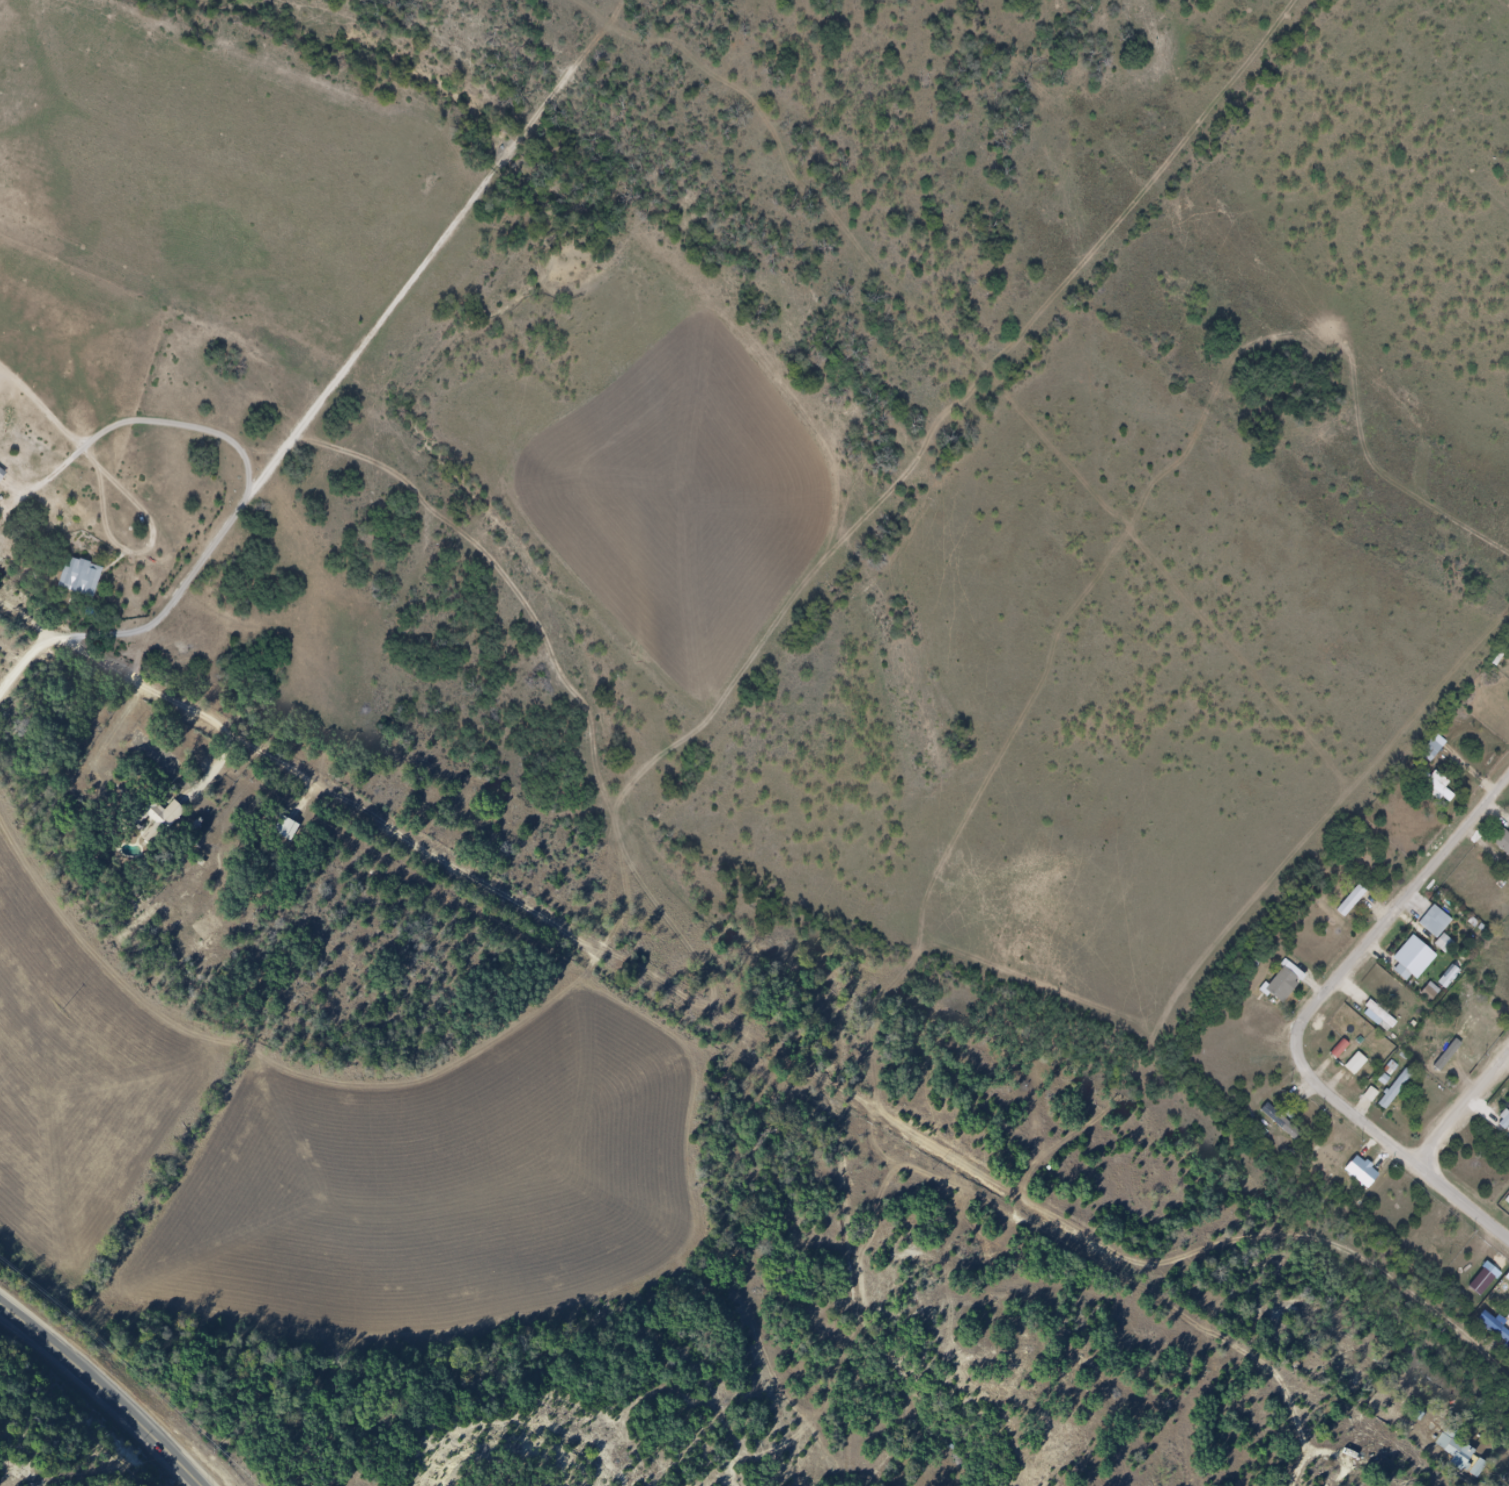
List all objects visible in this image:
road: (156, 423)
road: (270, 455)
road: (277, 475)
building: (6, 478)
building: (86, 585)
road: (195, 715)
building: (1434, 748)
building: (1441, 790)
building: (163, 827)
building: (1503, 842)
building: (1352, 901)
building: (1436, 922)
building: (1445, 944)
building: (1416, 957)
building: (1290, 991)
building: (1480, 1013)
building: (1382, 1015)
road: (1309, 1016)
building: (1396, 1089)
road: (1464, 1107)
building: (1287, 1125)
building: (1499, 1329)
road: (104, 1390)
building: (1466, 1459)

